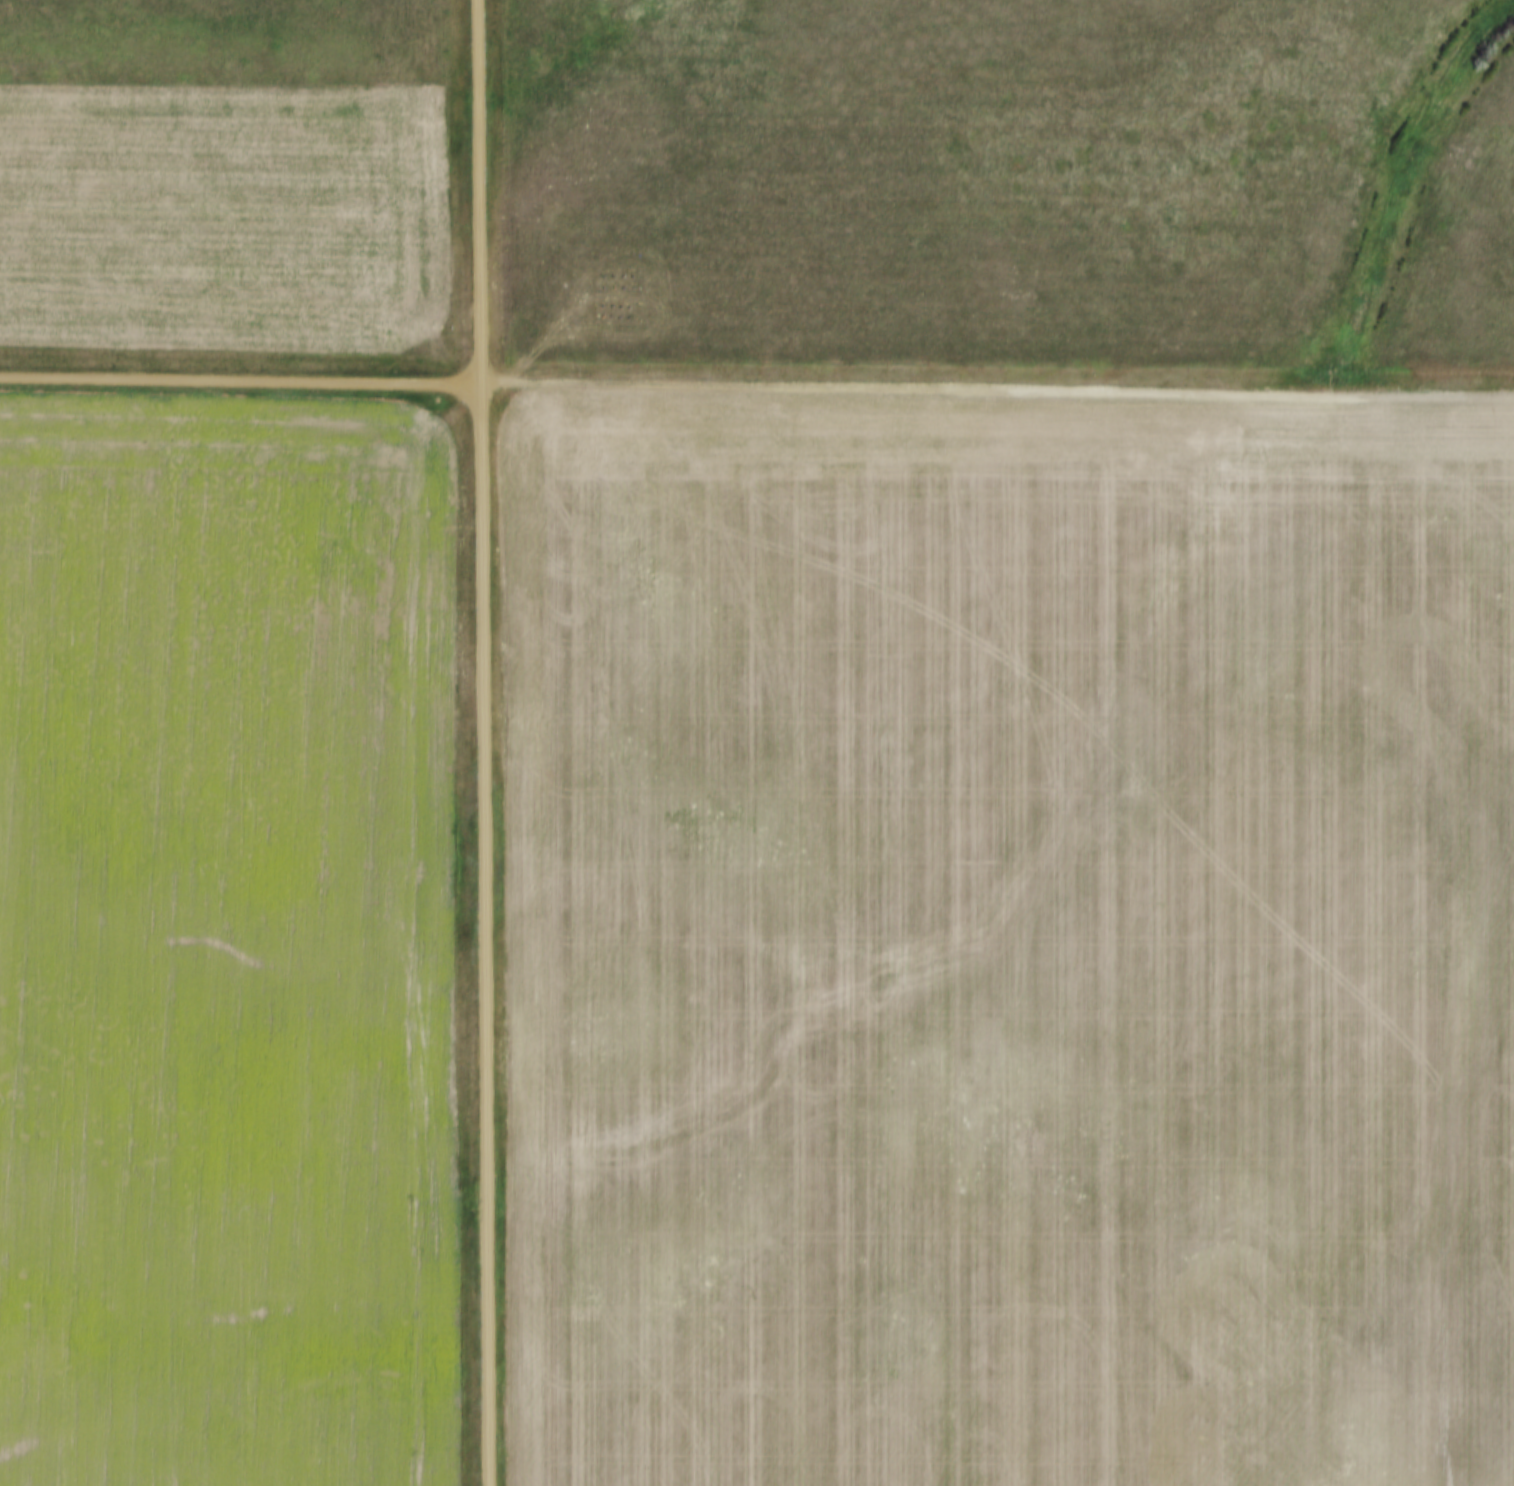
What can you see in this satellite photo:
road: (243, 385)
road: (1000, 395)
road: (487, 742)

